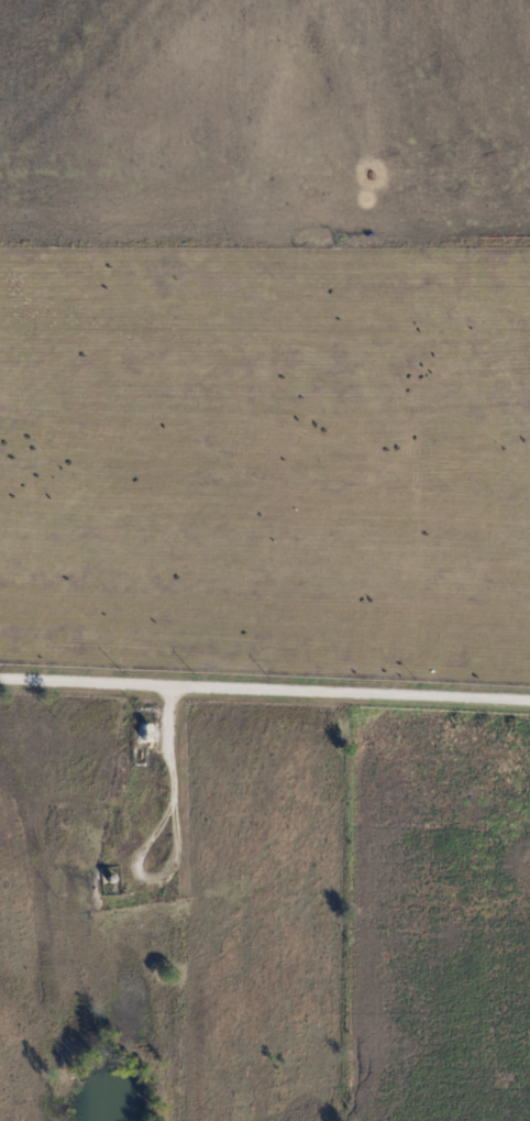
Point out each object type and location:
road: (265, 688)

